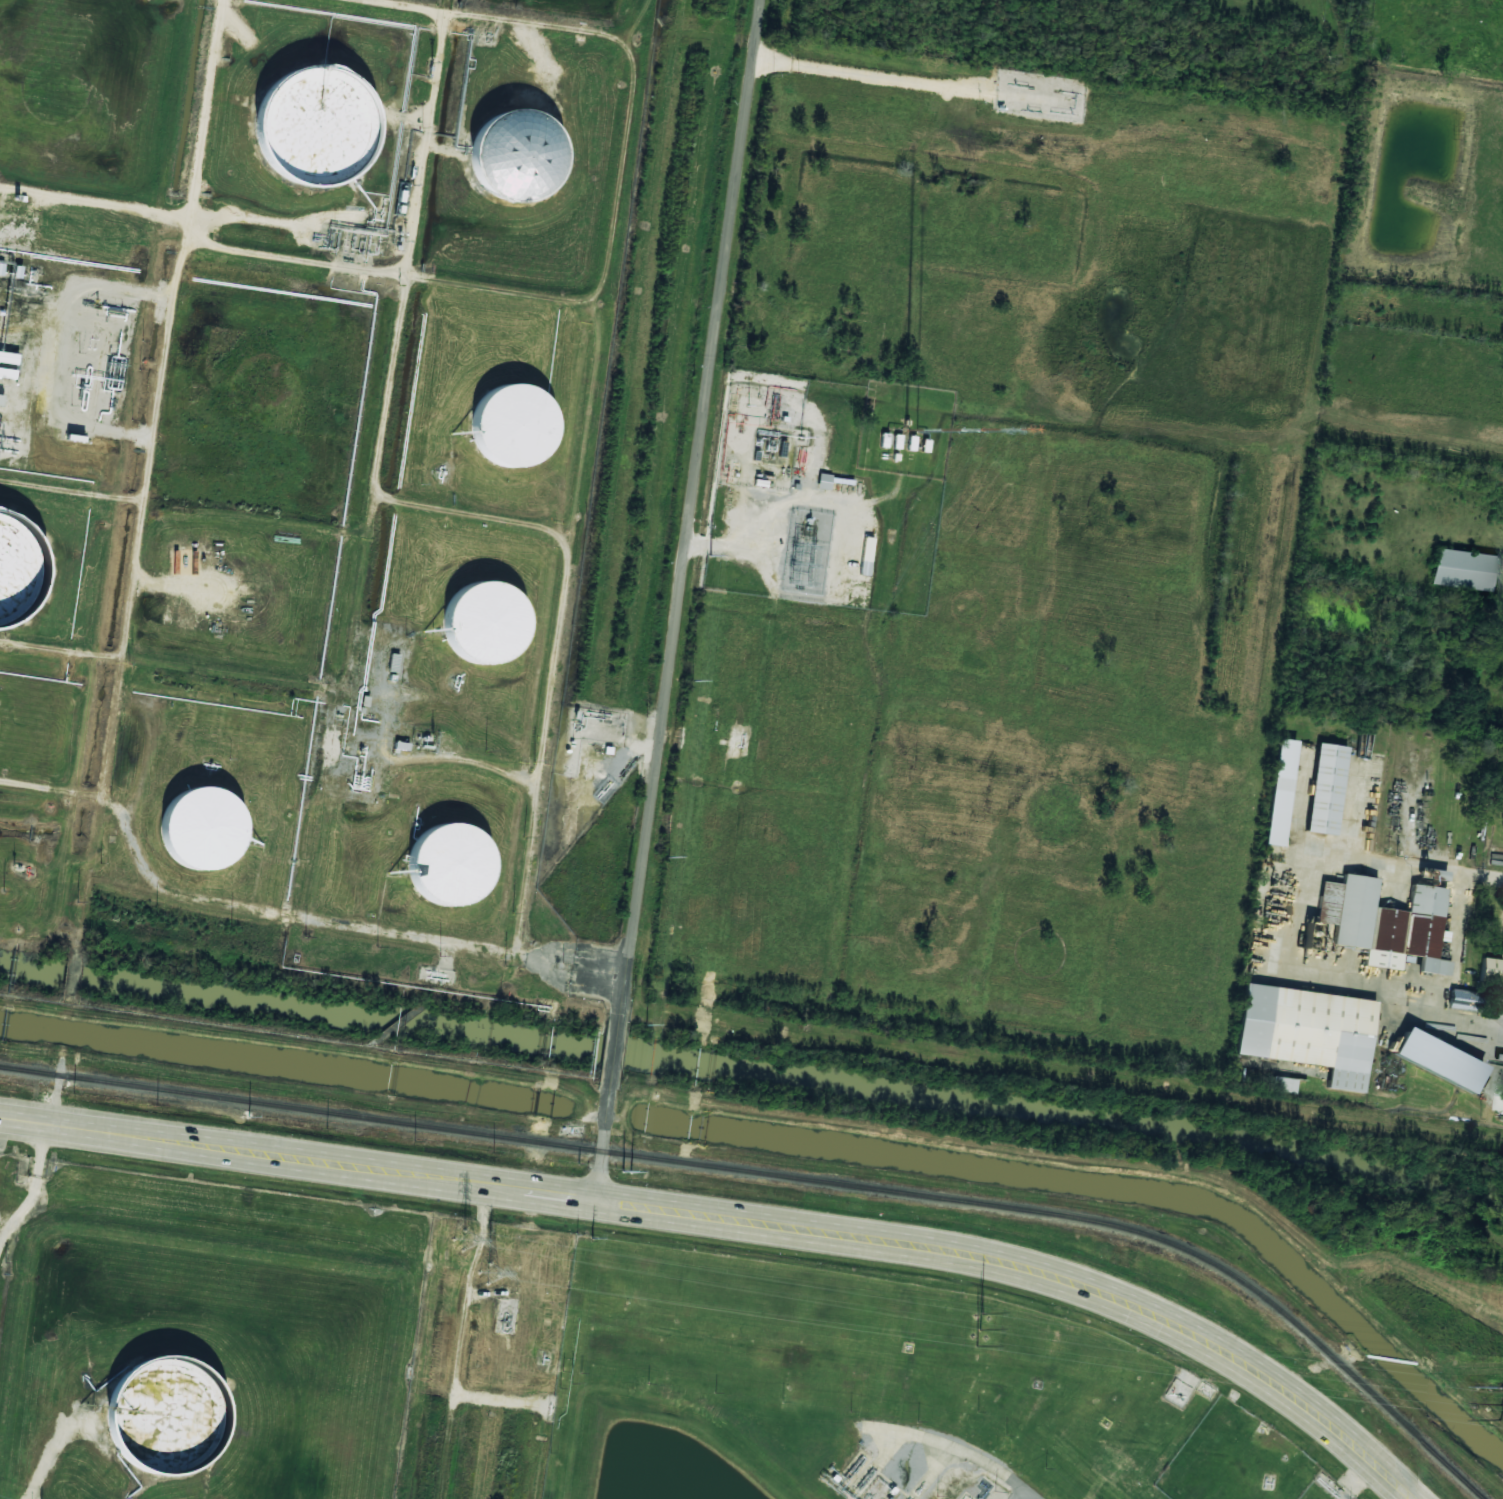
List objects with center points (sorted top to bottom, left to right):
road: (505, 17)
building: (307, 122)
storage tank: (307, 122)
building: (507, 157)
storage tank: (507, 157)
road: (93, 196)
building: (8, 364)
building: (1, 399)
building: (508, 425)
storage tank: (508, 425)
building: (884, 440)
building: (897, 441)
building: (911, 443)
road: (151, 452)
road: (568, 474)
building: (831, 485)
road: (372, 512)
power substation: (804, 550)
building: (1464, 569)
building: (13, 574)
storage tank: (13, 574)
road: (679, 599)
building: (477, 624)
storage tank: (477, 624)
building: (1324, 788)
building: (1279, 792)
building: (194, 831)
storage tank: (194, 831)
building: (441, 870)
storage tank: (441, 870)
road: (261, 906)
building: (1352, 908)
building: (1424, 920)
building: (1501, 945)
road: (600, 963)
building: (1492, 971)
building: (1462, 999)
building: (1303, 1027)
building: (705, 1058)
building: (1438, 1060)
building: (1283, 1084)
building: (1500, 1095)
railway: (767, 1173)
road: (738, 1219)
power tower: (462, 1239)
power tower: (979, 1330)
building: (154, 1420)
storage tank: (154, 1420)
railway: (1409, 1428)
road: (1024, 1495)

